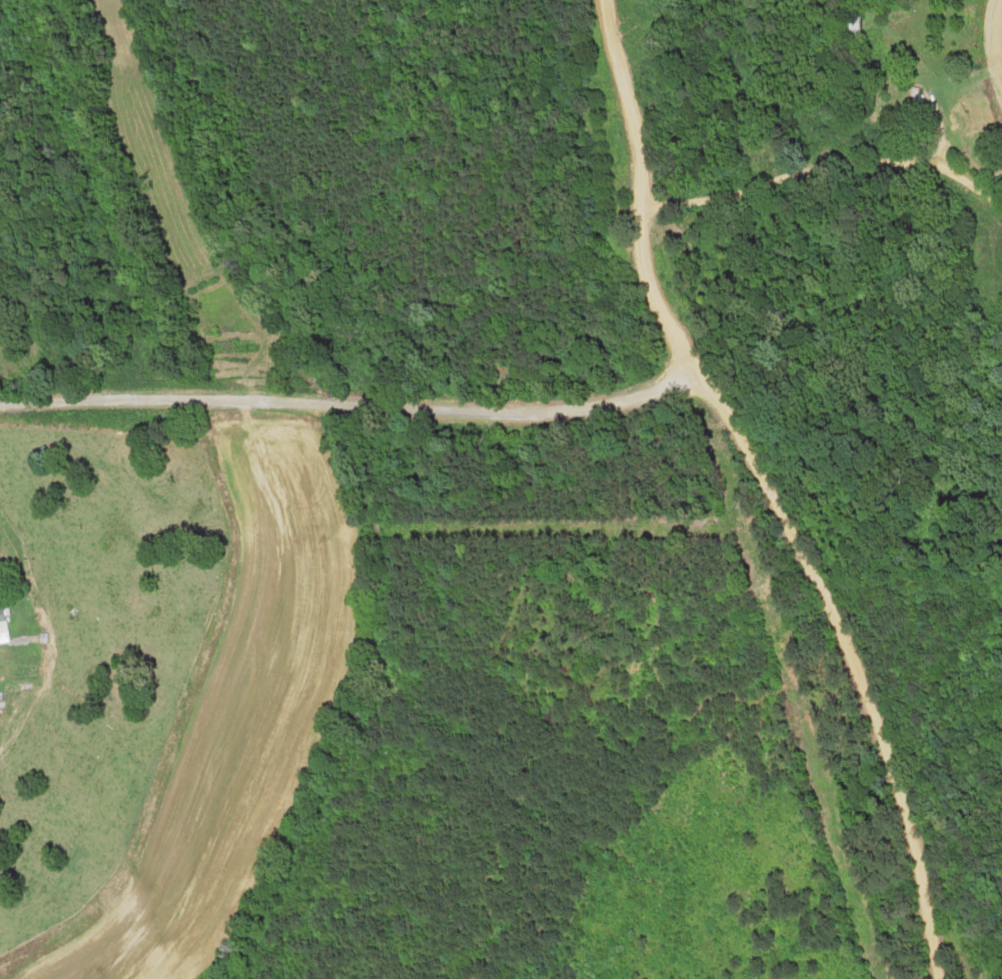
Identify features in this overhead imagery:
building: (847, 23)
building: (914, 98)
road: (645, 191)
road: (830, 196)
road: (353, 444)
building: (2, 620)
road: (859, 661)

